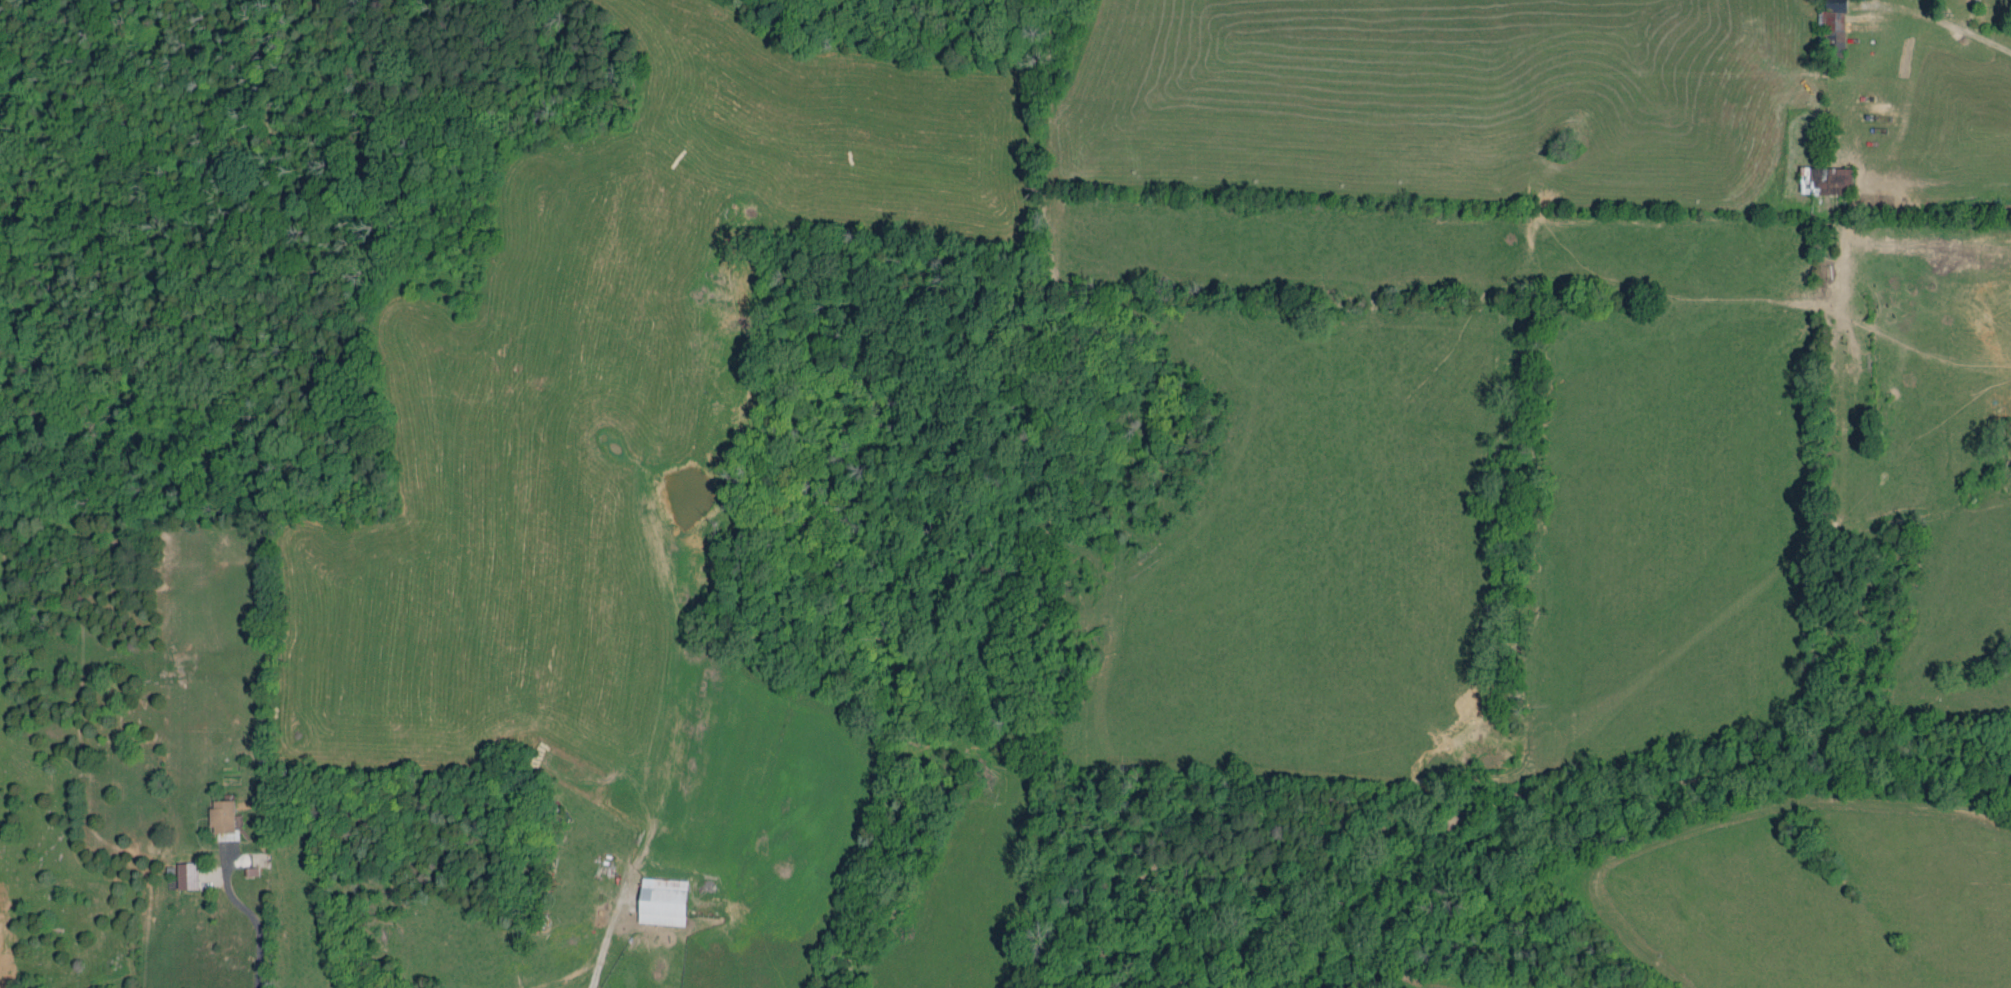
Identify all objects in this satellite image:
road: (1943, 27)
building: (222, 816)
building: (187, 876)
building: (663, 901)
road: (250, 917)
road: (608, 945)

